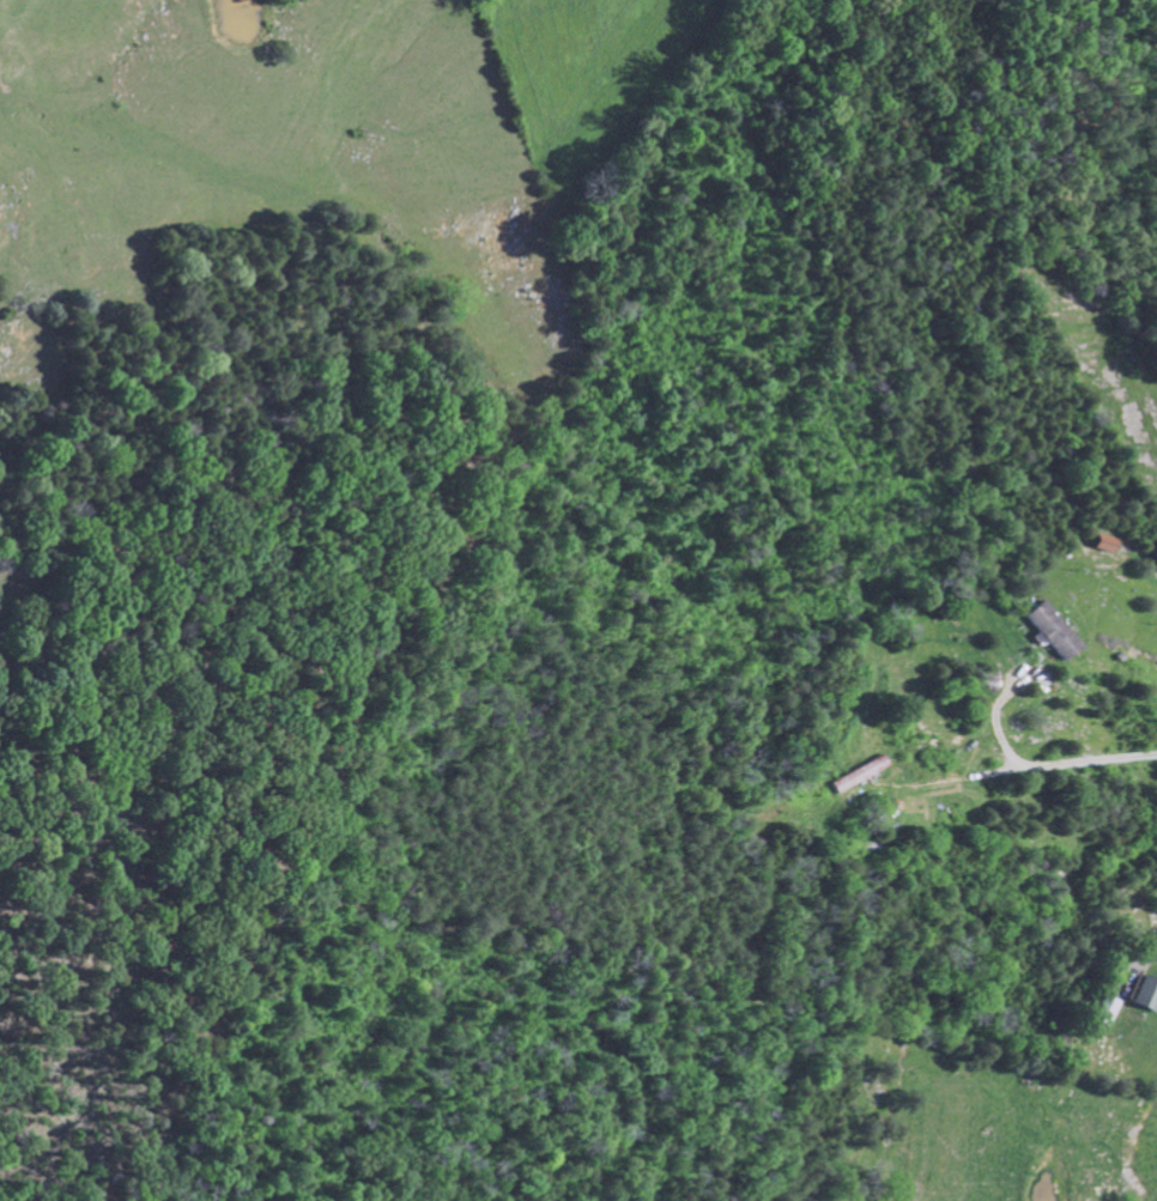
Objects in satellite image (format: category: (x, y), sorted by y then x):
building: (1100, 541)
building: (1049, 630)
building: (1144, 993)
building: (1092, 1181)

